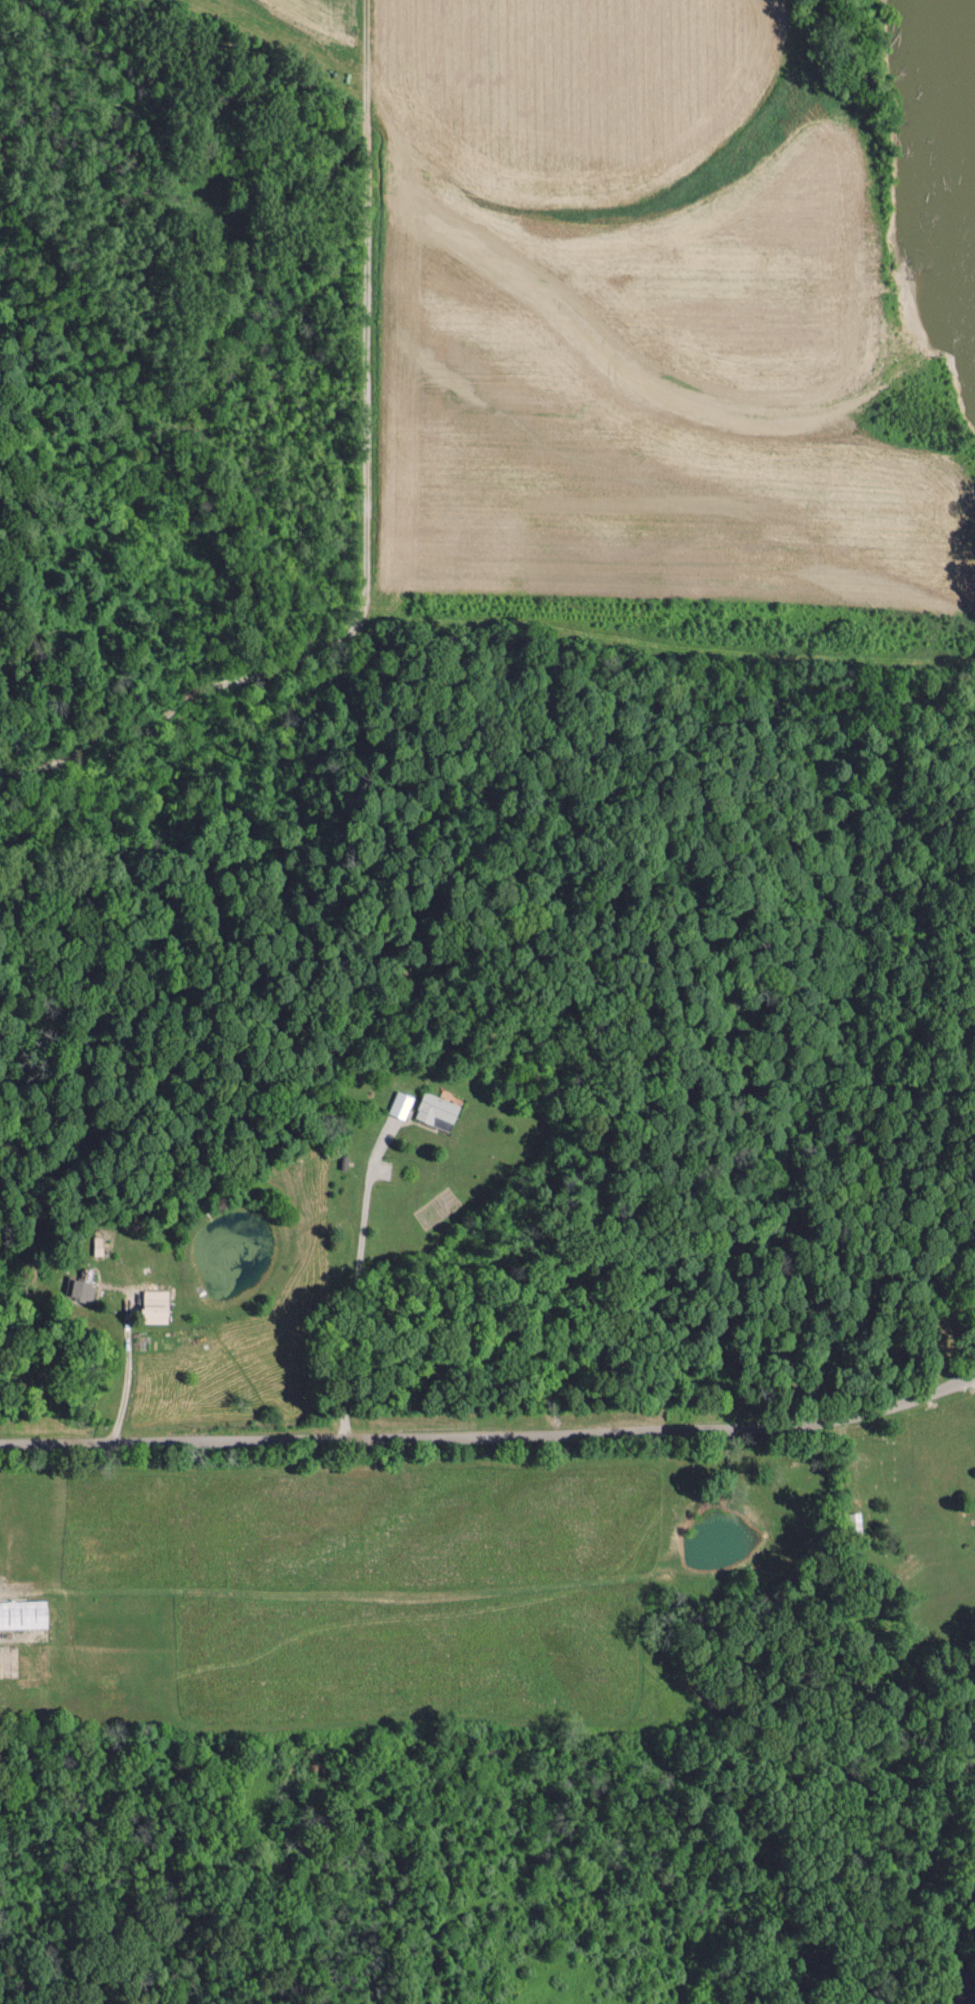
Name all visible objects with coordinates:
building: (399, 1105)
building: (436, 1111)
road: (355, 1285)
building: (81, 1290)
building: (155, 1307)
road: (973, 1372)
road: (124, 1375)
road: (493, 1435)
building: (854, 1522)
building: (23, 1614)

